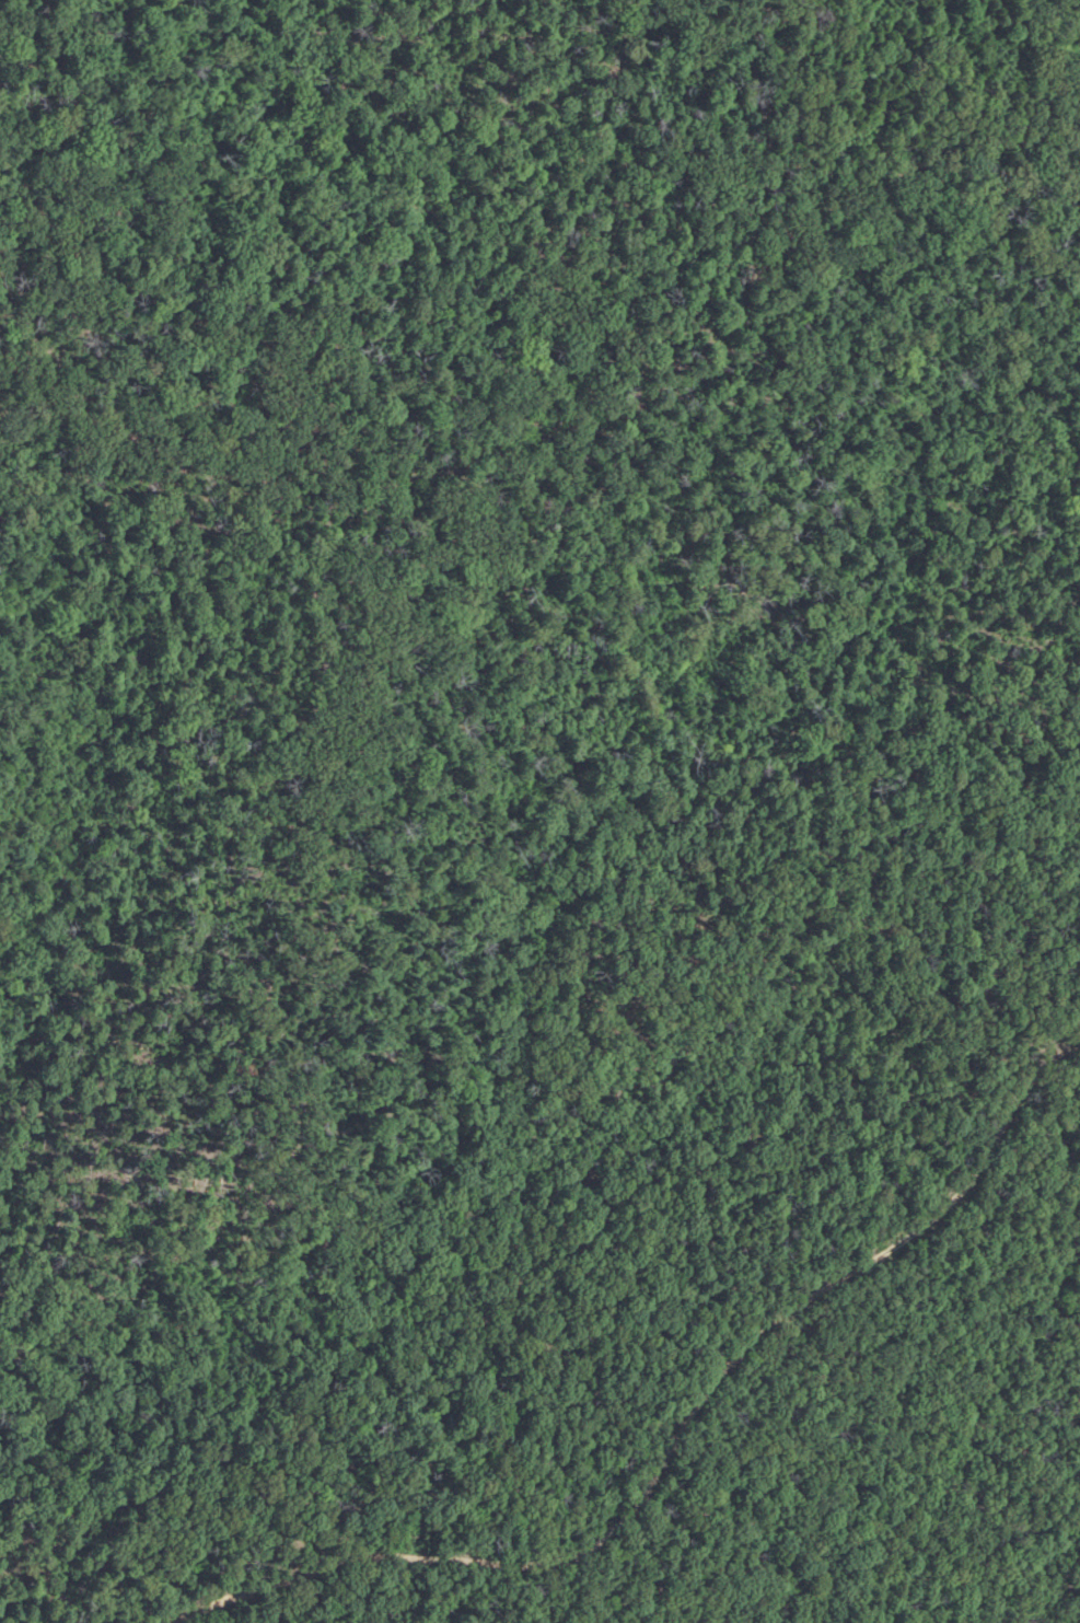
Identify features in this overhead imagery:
road: (681, 1433)

